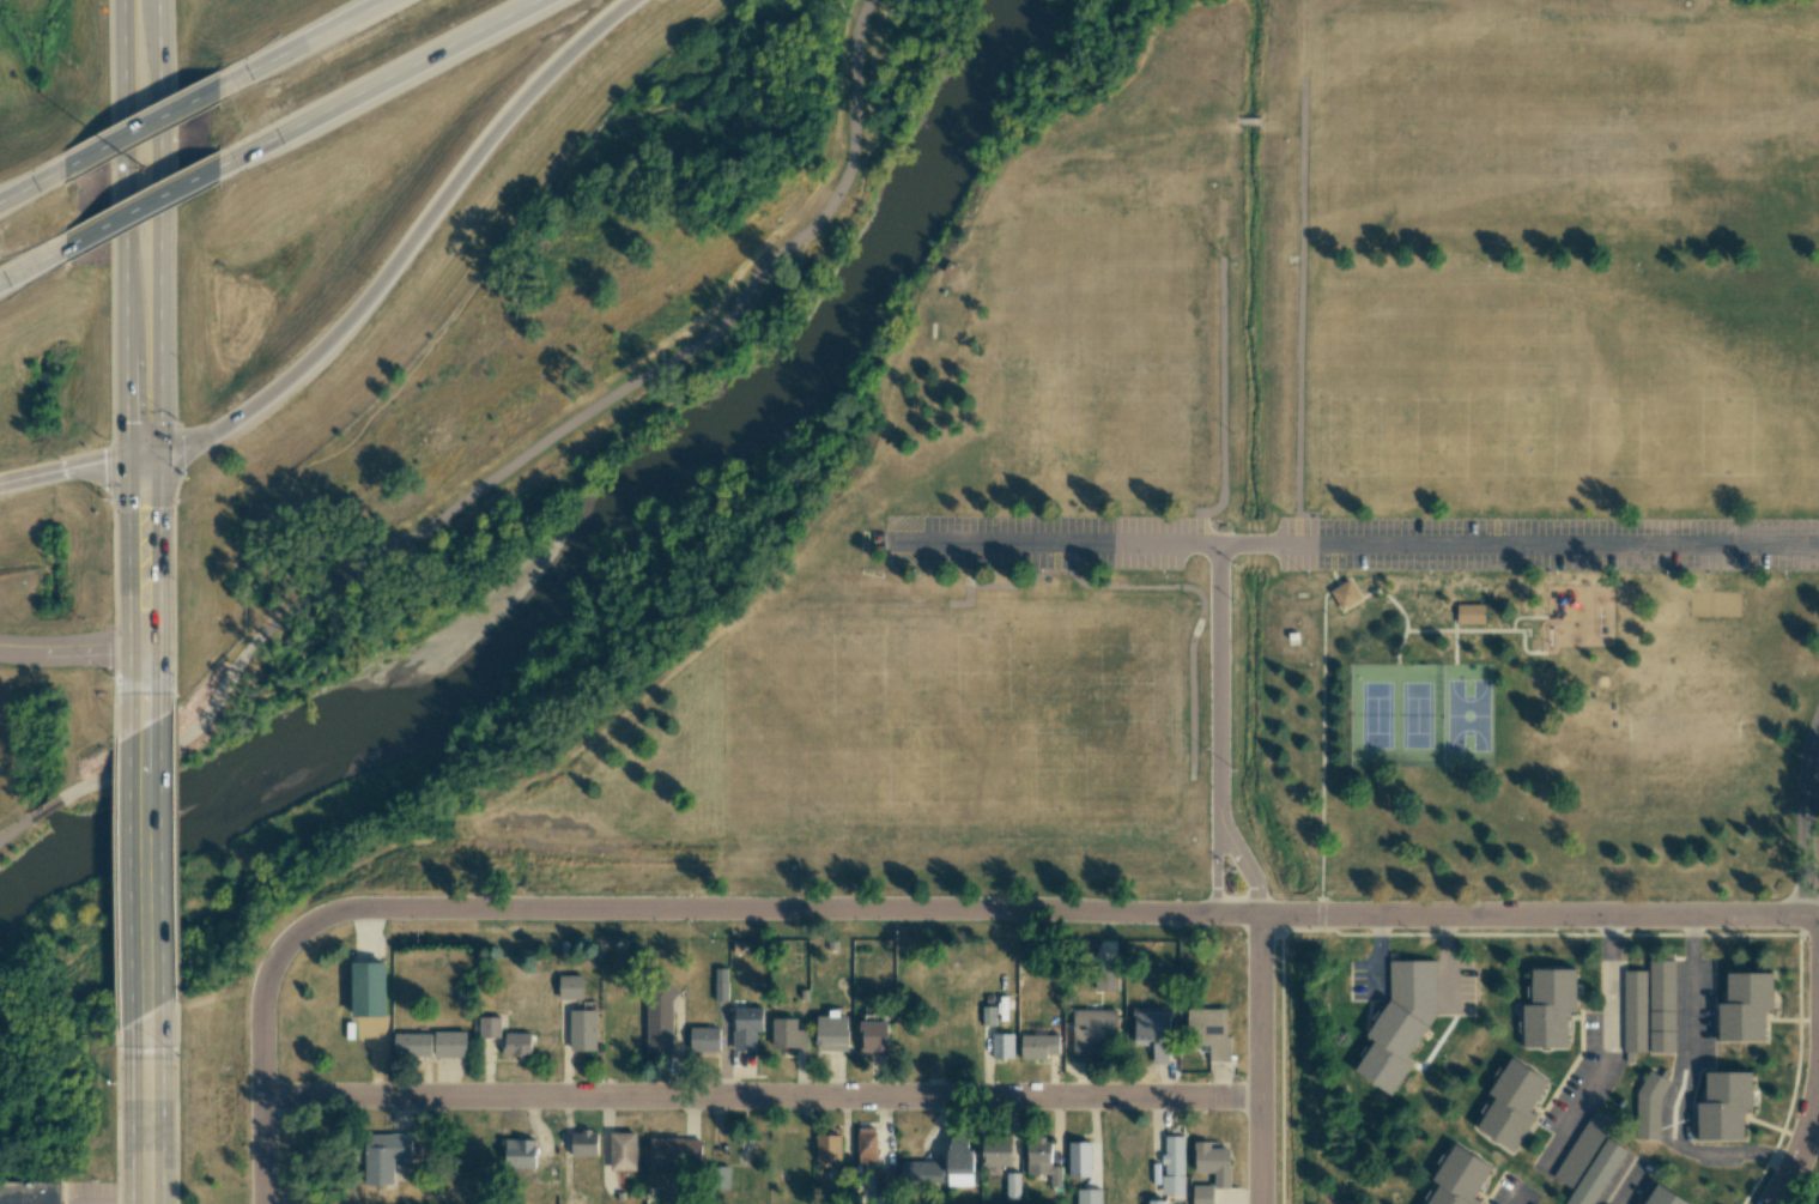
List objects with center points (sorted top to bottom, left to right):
road: (310, 42)
road: (387, 80)
road: (144, 128)
park: (1402, 131)
park: (1569, 137)
street lamp: (144, 169)
road: (28, 188)
road: (147, 206)
road: (157, 226)
road: (126, 230)
road: (408, 244)
road: (29, 267)
building: (954, 268)
road: (1300, 298)
park: (1105, 337)
park: (1425, 371)
road: (1223, 391)
traffic signals: (127, 421)
road: (535, 446)
traffic signals: (102, 465)
road: (79, 467)
traffic signals: (160, 507)
park: (1205, 514)
river: (586, 533)
parking lot: (1039, 540)
road: (1354, 544)
parking lot: (1547, 544)
road: (160, 550)
road: (128, 553)
building: (1347, 594)
park: (1715, 603)
building: (1473, 613)
road: (72, 651)
park: (54, 672)
road: (145, 677)
road: (1219, 682)
park: (1396, 715)
park: (1468, 715)
park: (794, 721)
park: (953, 721)
park: (1116, 722)
park: (1666, 737)
road: (48, 806)
road: (1805, 819)
road: (14, 825)
road: (1245, 865)
road: (1214, 866)
road: (146, 872)
road: (633, 907)
road: (1539, 915)
building: (1108, 966)
building: (720, 984)
building: (570, 987)
building: (368, 990)
building: (1661, 1005)
building: (1745, 1006)
building: (1548, 1008)
building: (1633, 1012)
building: (988, 1015)
building: (659, 1018)
building: (612, 1021)
building: (1399, 1023)
building: (489, 1027)
building: (746, 1027)
building: (582, 1030)
building: (1152, 1030)
building: (1091, 1031)
building: (832, 1033)
building: (1209, 1033)
building: (788, 1035)
building: (363, 1036)
building: (873, 1037)
building: (704, 1039)
building: (626, 1042)
building: (951, 1042)
building: (449, 1043)
building: (516, 1043)
building: (412, 1045)
building: (1002, 1046)
building: (1038, 1046)
road: (1609, 1051)
road: (1259, 1059)
road: (1679, 1090)
road: (760, 1099)
building: (1511, 1105)
building: (1723, 1106)
building: (1649, 1107)
road: (1817, 1108)
road: (147, 1120)
road: (1802, 1141)
building: (583, 1143)
building: (1129, 1143)
building: (866, 1146)
building: (1582, 1148)
building: (787, 1149)
building: (675, 1150)
building: (827, 1150)
building: (623, 1151)
building: (995, 1151)
building: (383, 1156)
building: (526, 1156)
building: (1079, 1158)
building: (1042, 1160)
building: (959, 1161)
building: (1212, 1162)
building: (1172, 1164)
building: (921, 1172)
building: (1596, 1173)
building: (1457, 1178)
building: (881, 1180)
building: (800, 1184)
building: (1012, 1186)
road: (1621, 1188)
building: (30, 1192)
building: (1202, 1194)
building: (1089, 1196)
building: (1662, 1197)
road: (1523, 1199)
building: (1156, 1202)

